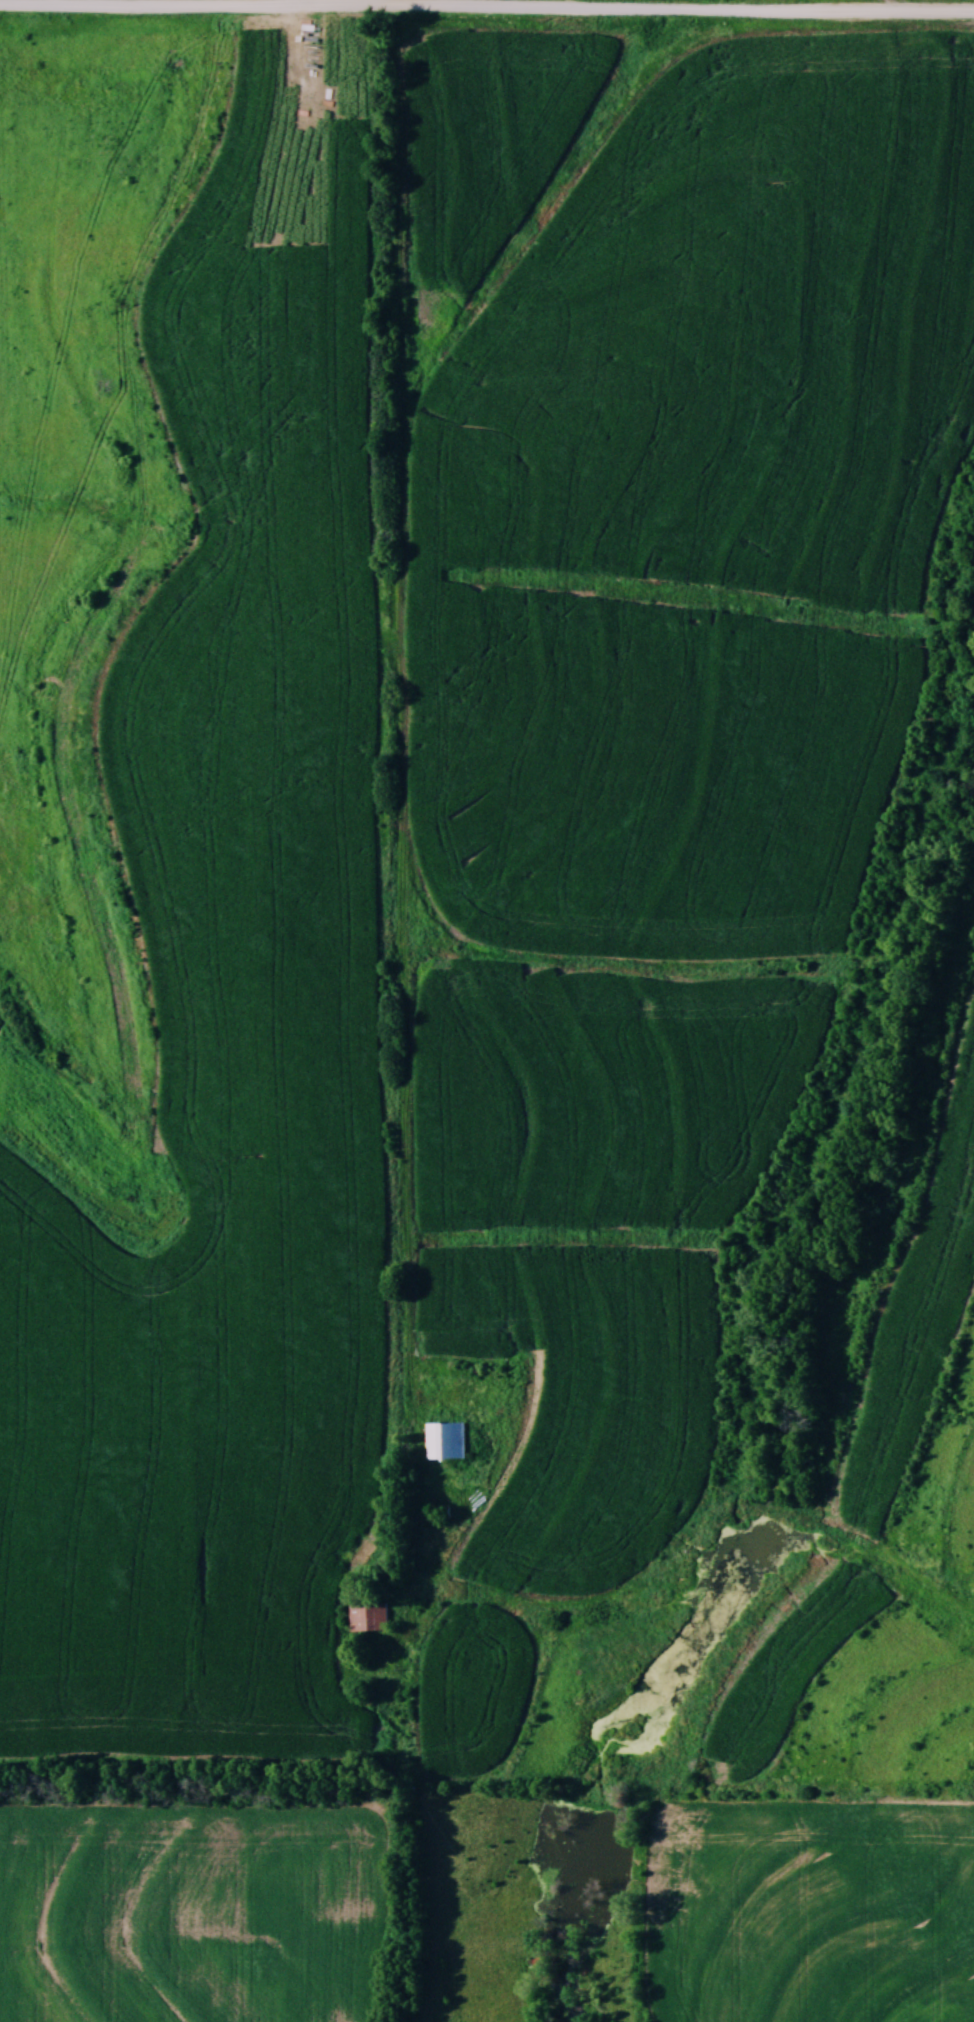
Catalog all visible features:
road: (301, 4)
road: (486, 10)
building: (443, 1439)
building: (366, 1616)

